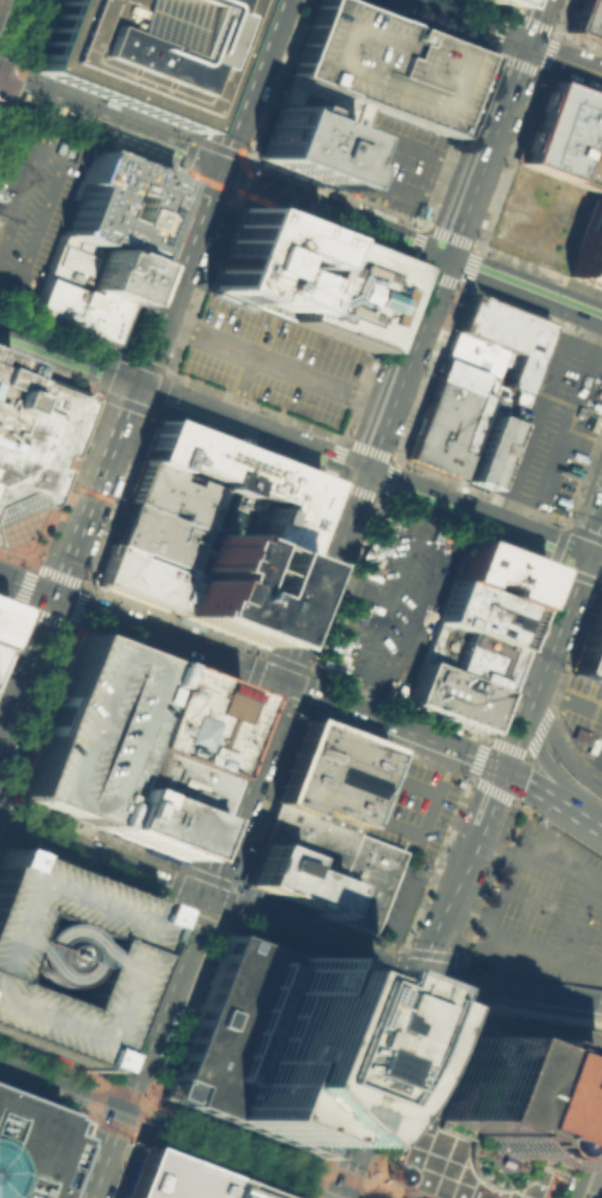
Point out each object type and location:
building: (493, 2)
railway: (4, 10)
road: (503, 13)
road: (467, 20)
road: (531, 20)
building: (585, 20)
road: (13, 34)
traffic signals: (524, 43)
building: (135, 51)
road: (562, 58)
road: (10, 63)
building: (382, 65)
parking lot: (382, 65)
building: (44, 88)
building: (321, 106)
building: (565, 137)
building: (305, 147)
road: (362, 150)
parking lot: (393, 162)
traffic signals: (213, 170)
road: (37, 194)
road: (232, 198)
road: (300, 202)
parking lot: (31, 203)
building: (114, 204)
road: (381, 207)
road: (421, 227)
building: (589, 249)
road: (443, 256)
traffic signals: (443, 257)
building: (262, 262)
building: (90, 267)
building: (342, 292)
building: (74, 309)
building: (502, 337)
parking lot: (272, 360)
road: (272, 361)
road: (138, 366)
building: (2, 369)
building: (483, 370)
road: (129, 380)
traffic signals: (132, 382)
road: (258, 393)
road: (150, 410)
building: (446, 419)
road: (554, 422)
parking lot: (552, 425)
road: (405, 435)
building: (34, 437)
road: (576, 441)
road: (309, 450)
building: (485, 451)
road: (383, 455)
traffic signals: (362, 470)
road: (393, 470)
building: (237, 488)
building: (172, 494)
road: (482, 516)
road: (429, 520)
building: (156, 535)
building: (0, 540)
road: (406, 541)
road: (552, 554)
traffic signals: (583, 554)
building: (496, 573)
building: (141, 577)
road: (25, 585)
building: (230, 587)
road: (353, 587)
traffic signals: (52, 595)
parking lot: (393, 605)
building: (2, 613)
building: (481, 615)
road: (11, 618)
road: (550, 635)
road: (166, 639)
building: (590, 644)
building: (465, 656)
road: (558, 682)
traffic signals: (282, 683)
road: (360, 692)
traffic signals: (529, 695)
road: (567, 695)
building: (449, 696)
parking lot: (582, 714)
building: (180, 719)
road: (529, 719)
road: (392, 725)
building: (82, 729)
parking lot: (82, 729)
building: (579, 735)
road: (534, 741)
road: (556, 751)
road: (600, 758)
traffic signals: (501, 769)
building: (328, 773)
building: (156, 781)
road: (410, 784)
road: (565, 788)
road: (2, 800)
road: (552, 800)
parking lot: (406, 803)
road: (425, 816)
building: (141, 822)
road: (223, 834)
building: (304, 837)
road: (538, 870)
road: (460, 873)
building: (288, 878)
building: (360, 882)
parking lot: (360, 882)
traffic signals: (201, 896)
road: (209, 899)
road: (407, 899)
parking lot: (391, 901)
parking lot: (544, 907)
road: (190, 915)
road: (38, 930)
road: (523, 932)
road: (13, 949)
building: (65, 957)
parking lot: (65, 957)
road: (142, 960)
road: (93, 966)
traffic signals: (421, 979)
road: (391, 984)
road: (507, 985)
road: (143, 992)
road: (387, 994)
road: (598, 1001)
road: (538, 1012)
road: (467, 1015)
road: (595, 1020)
road: (506, 1025)
road: (398, 1034)
building: (270, 1044)
road: (578, 1066)
road: (100, 1080)
road: (403, 1097)
road: (115, 1105)
traffic signals: (120, 1108)
road: (85, 1113)
building: (487, 1120)
road: (133, 1131)
railway: (168, 1134)
road: (359, 1140)
railway: (144, 1141)
building: (30, 1147)
road: (585, 1156)
road: (221, 1163)
road: (125, 1164)
road: (287, 1169)
road: (338, 1173)
railway: (594, 1176)
building: (167, 1178)
road: (597, 1185)
road: (308, 1190)
road: (364, 1190)
road: (387, 1190)
building: (239, 1191)
traffic signals: (341, 1191)
railway: (600, 1192)
road: (340, 1194)
road: (351, 1194)
road: (304, 1197)

